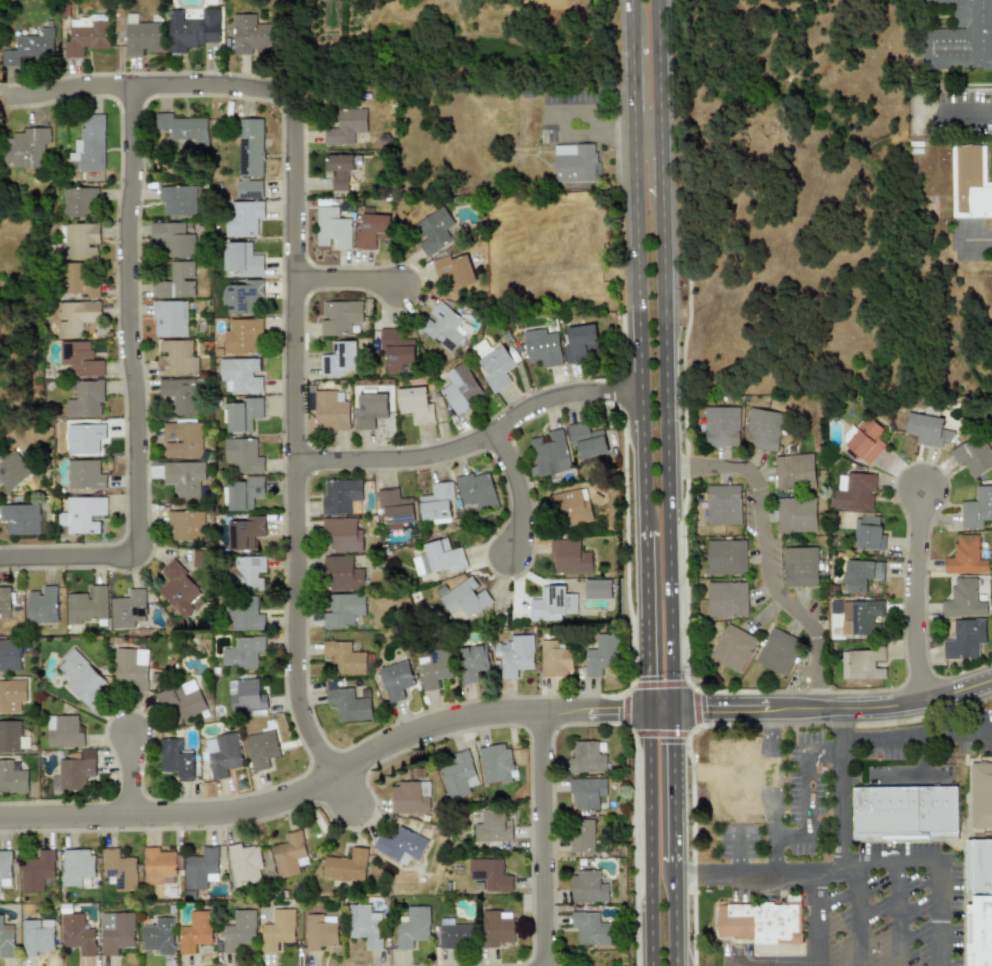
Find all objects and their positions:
road: (630, 16)
building: (193, 29)
building: (250, 34)
building: (142, 36)
building: (962, 36)
building: (86, 37)
building: (29, 46)
road: (657, 65)
road: (631, 71)
road: (146, 83)
road: (967, 109)
road: (597, 116)
road: (633, 119)
building: (346, 126)
building: (184, 128)
road: (646, 130)
road: (575, 134)
building: (90, 143)
building: (26, 147)
building: (250, 148)
building: (576, 163)
road: (660, 164)
building: (339, 170)
building: (970, 182)
building: (249, 189)
building: (178, 200)
building: (79, 201)
building: (243, 217)
building: (332, 227)
building: (371, 229)
building: (433, 230)
road: (974, 237)
building: (173, 239)
building: (82, 240)
building: (242, 259)
building: (454, 271)
building: (80, 280)
building: (176, 281)
road: (348, 293)
building: (244, 296)
building: (76, 317)
building: (339, 317)
building: (170, 318)
road: (130, 319)
building: (443, 326)
road: (638, 329)
building: (243, 335)
building: (579, 343)
building: (542, 347)
building: (176, 358)
building: (339, 358)
building: (80, 360)
building: (494, 363)
building: (241, 375)
building: (461, 388)
building: (181, 394)
building: (86, 398)
building: (415, 404)
building: (331, 410)
building: (370, 410)
building: (242, 414)
building: (721, 426)
building: (763, 429)
building: (928, 429)
building: (84, 437)
road: (472, 439)
building: (182, 440)
building: (587, 440)
road: (296, 443)
building: (550, 453)
road: (666, 453)
building: (973, 455)
building: (242, 456)
building: (12, 470)
building: (795, 471)
building: (85, 475)
building: (184, 478)
building: (477, 490)
building: (854, 491)
building: (244, 492)
road: (513, 493)
building: (340, 495)
building: (437, 502)
building: (723, 504)
building: (571, 507)
building: (395, 508)
building: (977, 508)
building: (82, 514)
building: (797, 515)
building: (23, 519)
building: (186, 525)
building: (246, 532)
building: (866, 532)
building: (341, 535)
road: (68, 556)
road: (764, 556)
building: (965, 556)
building: (570, 557)
building: (726, 557)
building: (437, 558)
building: (200, 559)
building: (800, 566)
building: (249, 572)
building: (342, 573)
building: (860, 573)
building: (598, 589)
building: (180, 590)
road: (916, 595)
building: (727, 599)
building: (963, 599)
building: (465, 600)
building: (4, 602)
building: (42, 604)
building: (88, 604)
building: (553, 604)
building: (128, 609)
building: (343, 610)
building: (244, 614)
road: (645, 617)
building: (860, 617)
building: (965, 638)
building: (733, 648)
building: (778, 651)
building: (243, 653)
building: (9, 655)
building: (516, 655)
building: (603, 655)
building: (344, 658)
building: (475, 658)
building: (555, 660)
building: (862, 664)
building: (131, 667)
building: (434, 668)
building: (82, 678)
building: (396, 679)
building: (12, 695)
building: (245, 695)
building: (181, 700)
building: (348, 704)
road: (660, 707)
road: (834, 708)
building: (64, 731)
road: (916, 733)
building: (12, 737)
building: (261, 749)
building: (222, 754)
building: (588, 758)
building: (176, 759)
building: (495, 763)
building: (76, 770)
building: (740, 772)
building: (458, 775)
road: (327, 777)
building: (12, 778)
road: (130, 778)
road: (674, 785)
road: (842, 785)
road: (770, 789)
road: (803, 789)
building: (588, 792)
building: (981, 794)
road: (345, 796)
building: (410, 796)
building: (905, 813)
building: (494, 826)
building: (583, 836)
road: (649, 836)
road: (544, 839)
building: (401, 844)
building: (289, 855)
road: (855, 860)
building: (244, 862)
building: (346, 865)
building: (979, 865)
building: (76, 866)
building: (158, 866)
building: (5, 868)
building: (201, 868)
building: (120, 869)
building: (36, 870)
building: (492, 874)
building: (589, 886)
road: (856, 913)
road: (895, 913)
road: (675, 914)
road: (815, 916)
building: (761, 921)
building: (366, 925)
building: (414, 927)
building: (278, 929)
building: (594, 929)
building: (239, 930)
building: (195, 931)
building: (321, 931)
building: (978, 931)
building: (117, 932)
building: (77, 933)
building: (499, 933)
building: (456, 934)
building: (37, 936)
building: (159, 936)
building: (6, 939)
road: (770, 963)
road: (726, 965)

